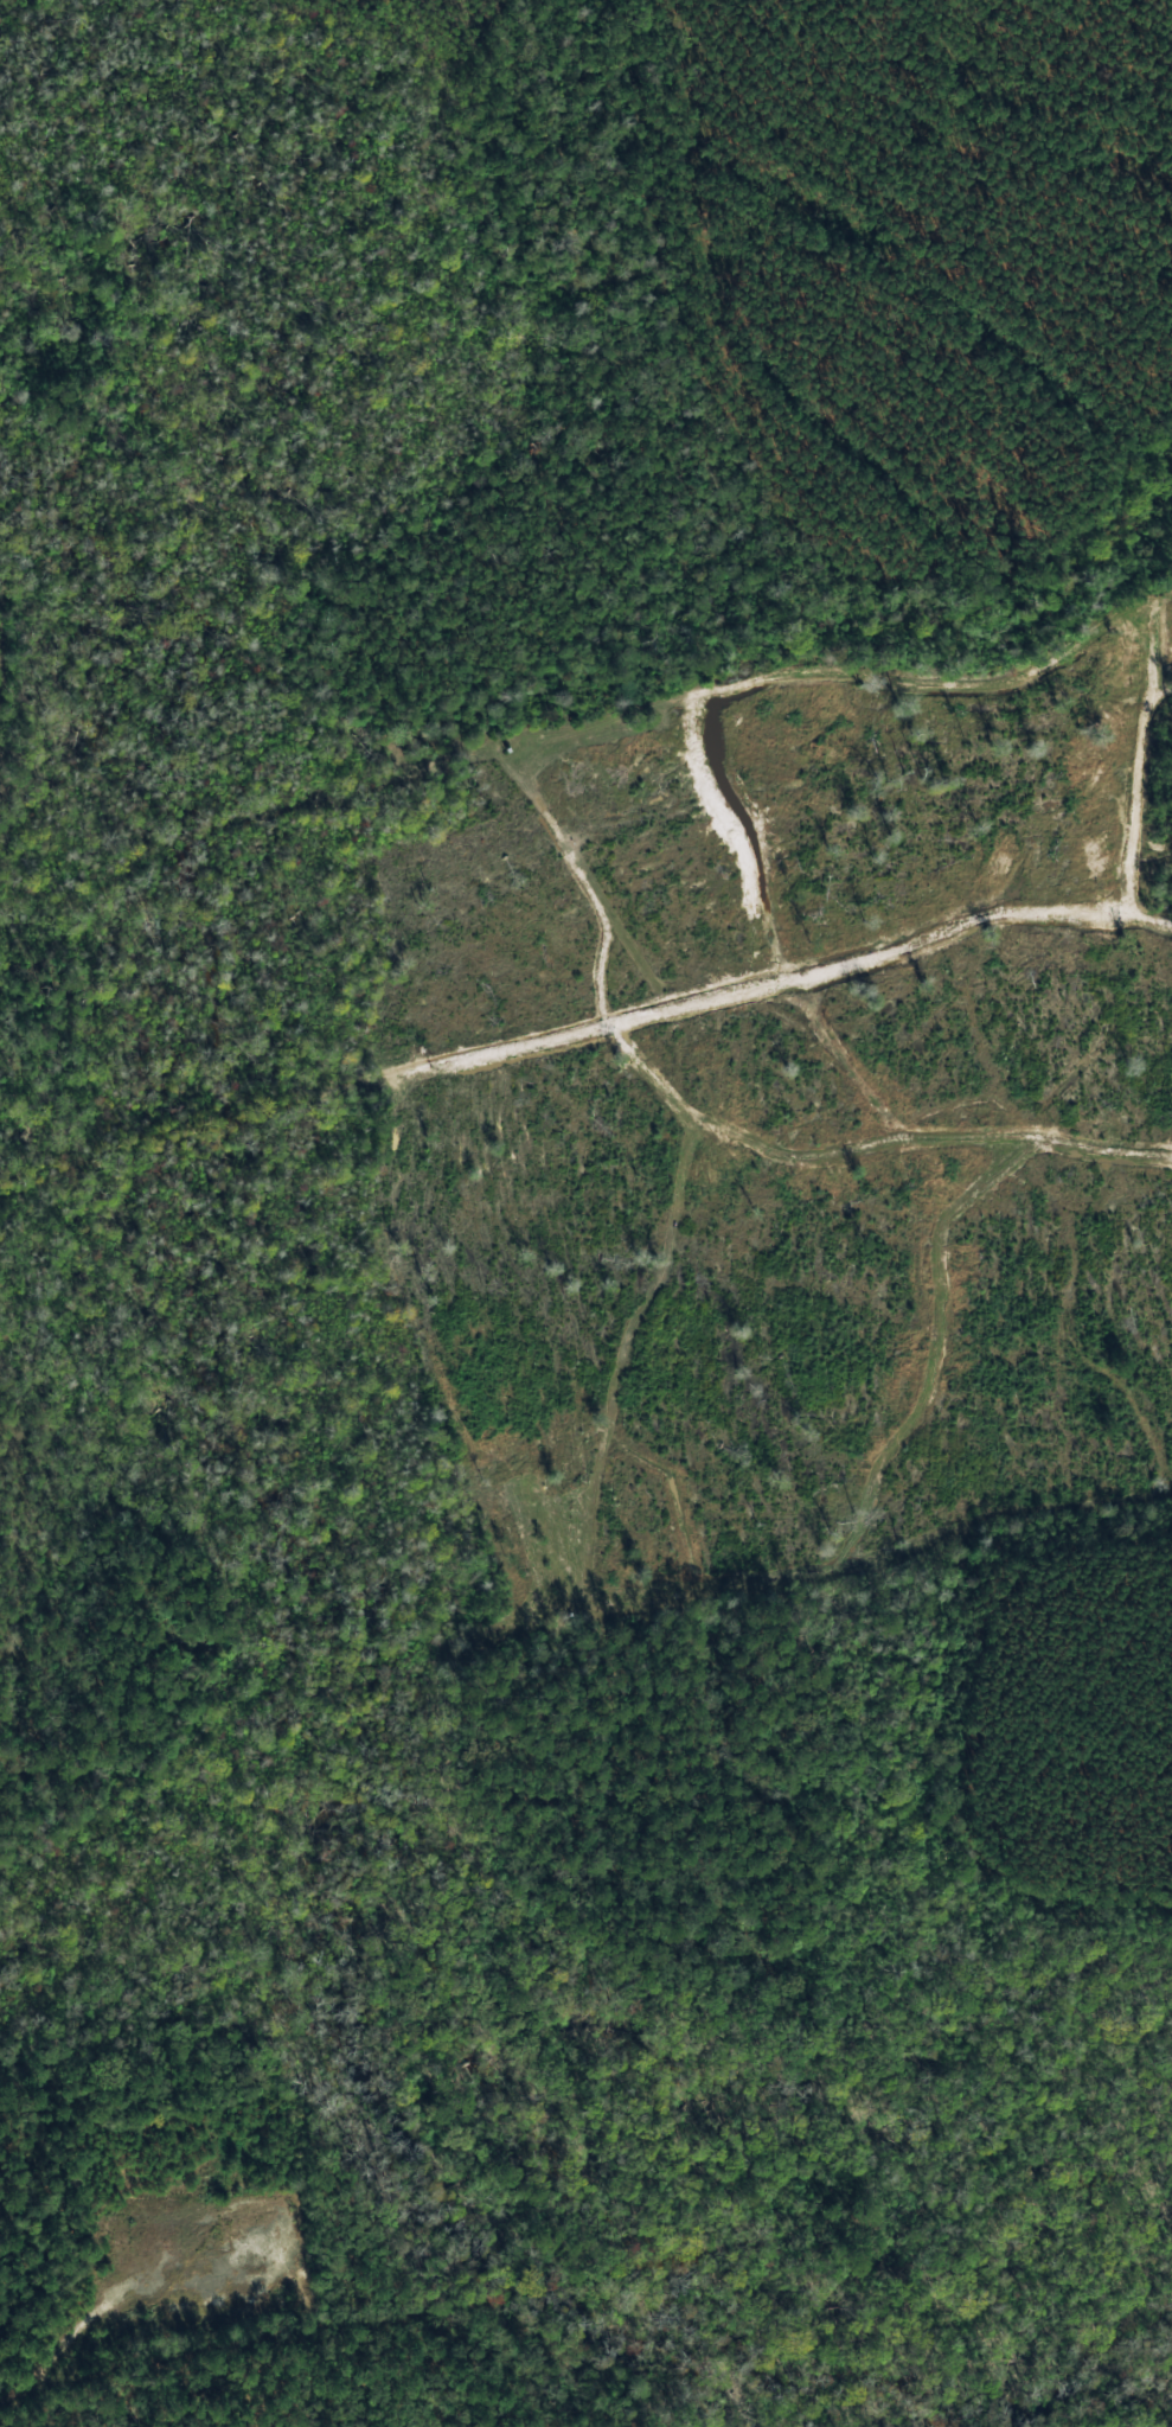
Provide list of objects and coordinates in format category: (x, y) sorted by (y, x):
road: (585, 2280)

